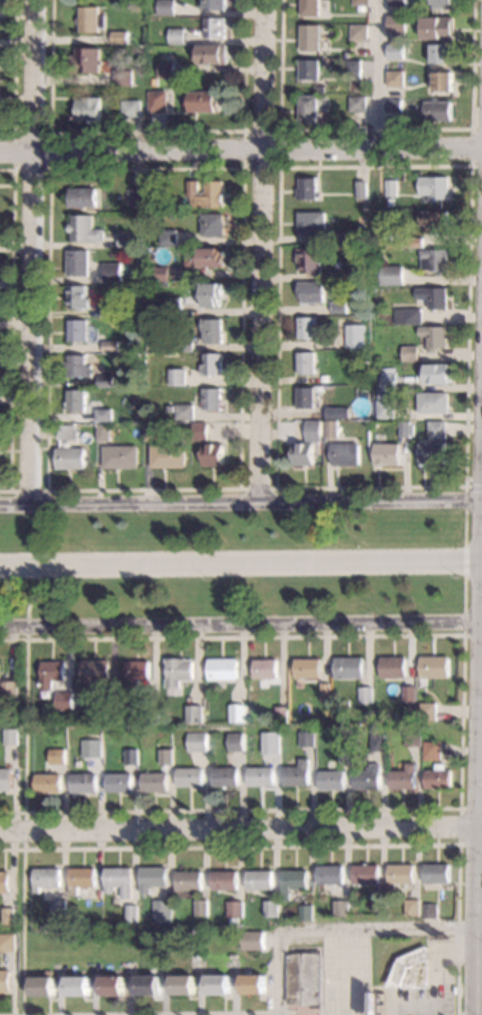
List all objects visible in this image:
building: (359, 2)
building: (396, 3)
building: (211, 5)
building: (440, 5)
building: (166, 7)
building: (310, 7)
building: (90, 19)
building: (395, 22)
building: (437, 27)
building: (214, 28)
building: (358, 32)
building: (176, 35)
building: (119, 37)
building: (310, 37)
building: (395, 51)
building: (440, 53)
building: (212, 54)
building: (86, 60)
building: (354, 66)
building: (310, 69)
building: (166, 70)
road: (13, 72)
road: (376, 72)
building: (356, 75)
building: (123, 77)
building: (394, 78)
building: (442, 81)
building: (156, 101)
building: (204, 101)
building: (357, 103)
building: (393, 106)
building: (308, 108)
building: (88, 109)
building: (131, 109)
building: (437, 110)
road: (374, 128)
road: (279, 129)
road: (145, 130)
road: (470, 145)
road: (241, 149)
road: (469, 164)
road: (242, 166)
road: (13, 168)
building: (432, 186)
building: (390, 187)
building: (307, 188)
building: (361, 189)
building: (205, 193)
building: (82, 197)
building: (135, 197)
building: (433, 221)
building: (312, 223)
building: (212, 224)
building: (84, 229)
building: (389, 235)
building: (167, 236)
building: (345, 238)
building: (125, 240)
building: (400, 241)
building: (413, 242)
road: (260, 249)
road: (31, 250)
building: (206, 256)
building: (309, 260)
building: (433, 260)
building: (77, 262)
building: (111, 272)
building: (159, 273)
building: (342, 273)
building: (390, 275)
building: (311, 291)
building: (210, 294)
building: (77, 296)
building: (433, 297)
building: (172, 305)
building: (339, 307)
building: (107, 311)
building: (406, 316)
road: (11, 327)
building: (305, 327)
building: (76, 330)
building: (211, 330)
building: (356, 335)
building: (433, 336)
building: (182, 342)
building: (109, 346)
building: (408, 353)
building: (305, 362)
building: (210, 363)
building: (76, 365)
building: (374, 366)
building: (419, 366)
building: (439, 373)
building: (176, 376)
building: (323, 378)
building: (386, 379)
building: (104, 380)
building: (366, 389)
building: (379, 395)
building: (304, 397)
building: (211, 399)
building: (76, 400)
building: (433, 402)
building: (168, 408)
building: (384, 409)
building: (183, 411)
building: (334, 412)
building: (102, 414)
building: (404, 429)
building: (152, 430)
building: (199, 430)
building: (312, 430)
building: (331, 430)
building: (436, 430)
building: (65, 431)
building: (102, 432)
building: (303, 453)
building: (345, 453)
building: (431, 453)
building: (211, 454)
building: (386, 454)
building: (119, 456)
building: (166, 456)
building: (69, 457)
road: (472, 485)
road: (257, 487)
road: (38, 489)
road: (464, 497)
road: (240, 500)
road: (464, 526)
road: (464, 559)
park: (236, 561)
road: (240, 562)
road: (35, 568)
road: (463, 593)
road: (240, 624)
road: (462, 631)
building: (392, 666)
building: (433, 666)
building: (306, 667)
building: (348, 667)
building: (264, 668)
building: (95, 669)
building: (222, 669)
building: (178, 670)
building: (136, 671)
building: (50, 673)
building: (9, 690)
building: (324, 692)
building: (408, 693)
building: (365, 694)
road: (477, 696)
building: (108, 697)
building: (64, 700)
building: (427, 711)
building: (236, 712)
building: (193, 713)
building: (280, 713)
building: (149, 715)
road: (460, 718)
building: (96, 721)
building: (272, 734)
building: (265, 735)
building: (9, 736)
building: (341, 736)
building: (411, 736)
building: (306, 738)
building: (196, 741)
building: (234, 741)
building: (377, 742)
building: (94, 749)
building: (431, 749)
building: (164, 754)
building: (55, 756)
building: (130, 756)
building: (295, 774)
building: (224, 776)
building: (260, 776)
building: (437, 776)
building: (188, 777)
building: (367, 777)
building: (403, 777)
building: (5, 779)
building: (330, 779)
building: (153, 781)
building: (46, 782)
building: (82, 782)
building: (118, 782)
road: (459, 812)
road: (22, 820)
road: (241, 830)
road: (315, 844)
building: (437, 873)
building: (330, 874)
building: (365, 874)
building: (400, 874)
building: (45, 877)
building: (80, 878)
building: (151, 878)
building: (259, 879)
building: (188, 880)
building: (224, 880)
building: (4, 881)
building: (118, 881)
building: (293, 881)
building: (98, 893)
building: (378, 901)
building: (57, 907)
building: (201, 907)
building: (413, 907)
building: (341, 908)
building: (235, 909)
building: (271, 909)
building: (161, 910)
building: (430, 910)
building: (131, 912)
building: (306, 912)
building: (382, 912)
building: (8, 915)
building: (44, 927)
road: (387, 929)
building: (252, 940)
building: (6, 941)
building: (197, 956)
building: (232, 956)
road: (275, 967)
building: (411, 970)
road: (343, 972)
road: (444, 972)
parking lot: (346, 975)
building: (302, 978)
building: (4, 979)
building: (146, 984)
building: (181, 984)
building: (216, 984)
building: (252, 984)
building: (41, 985)
building: (110, 985)
building: (76, 986)
building: (455, 990)
road: (401, 1000)
road: (308, 1011)
road: (148, 1012)
road: (84, 1014)

